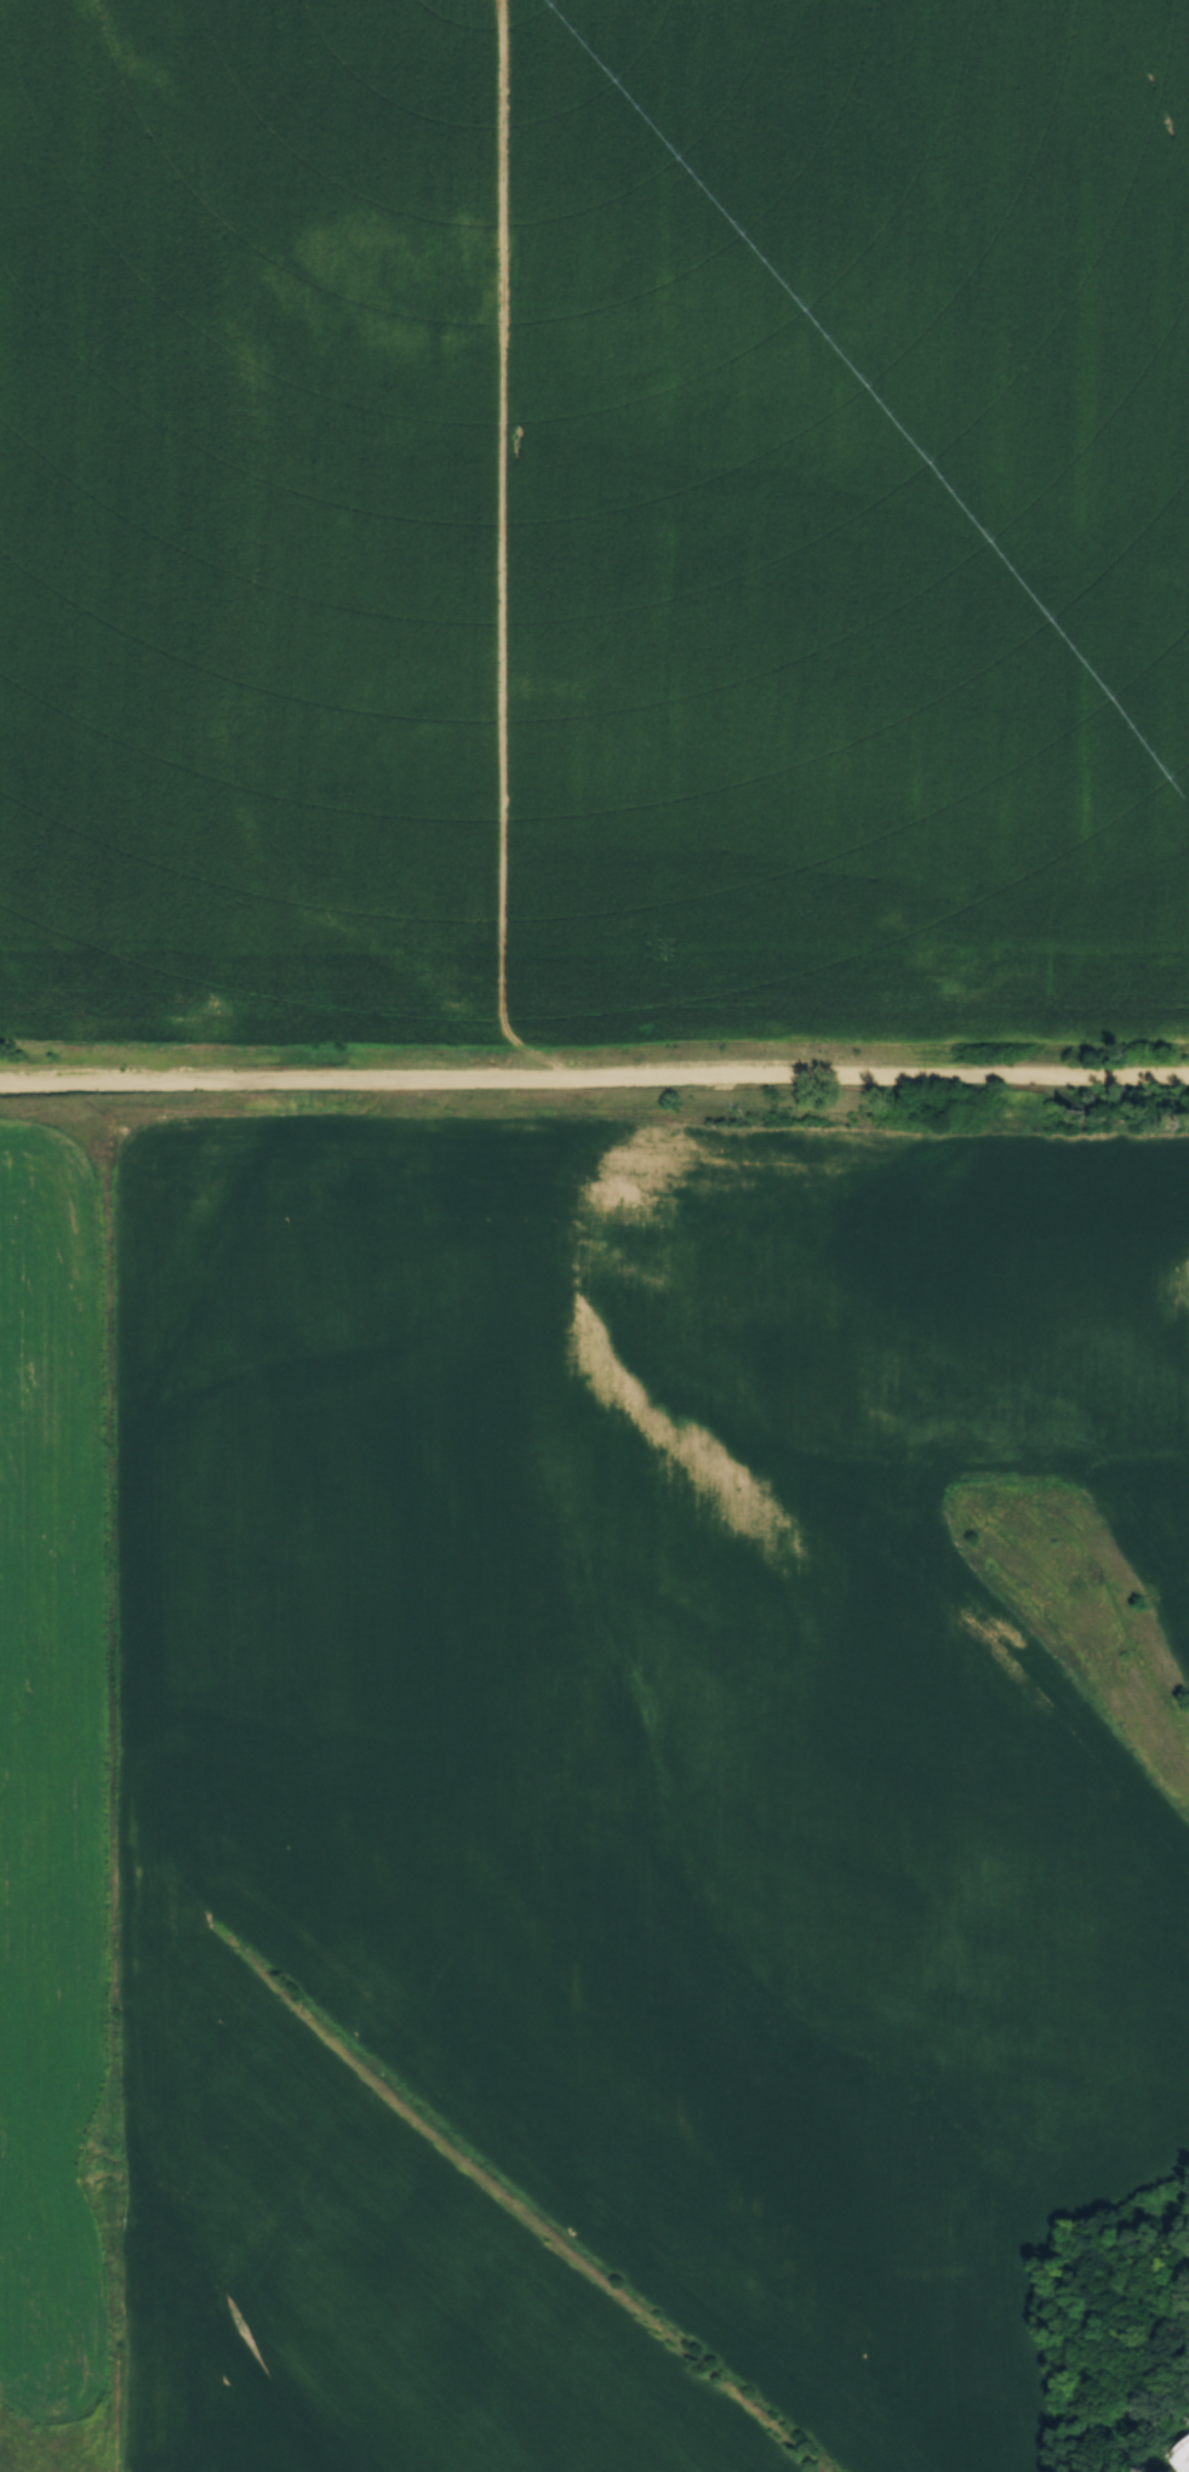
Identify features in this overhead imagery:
road: (594, 1081)
building: (1179, 2451)

